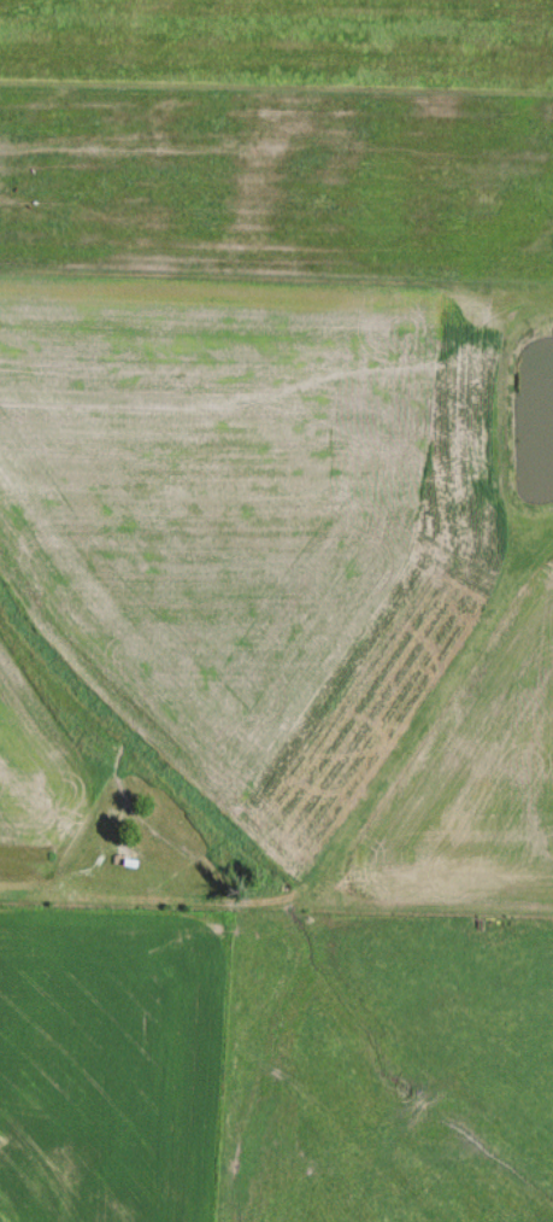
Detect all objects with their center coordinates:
road: (455, 912)

